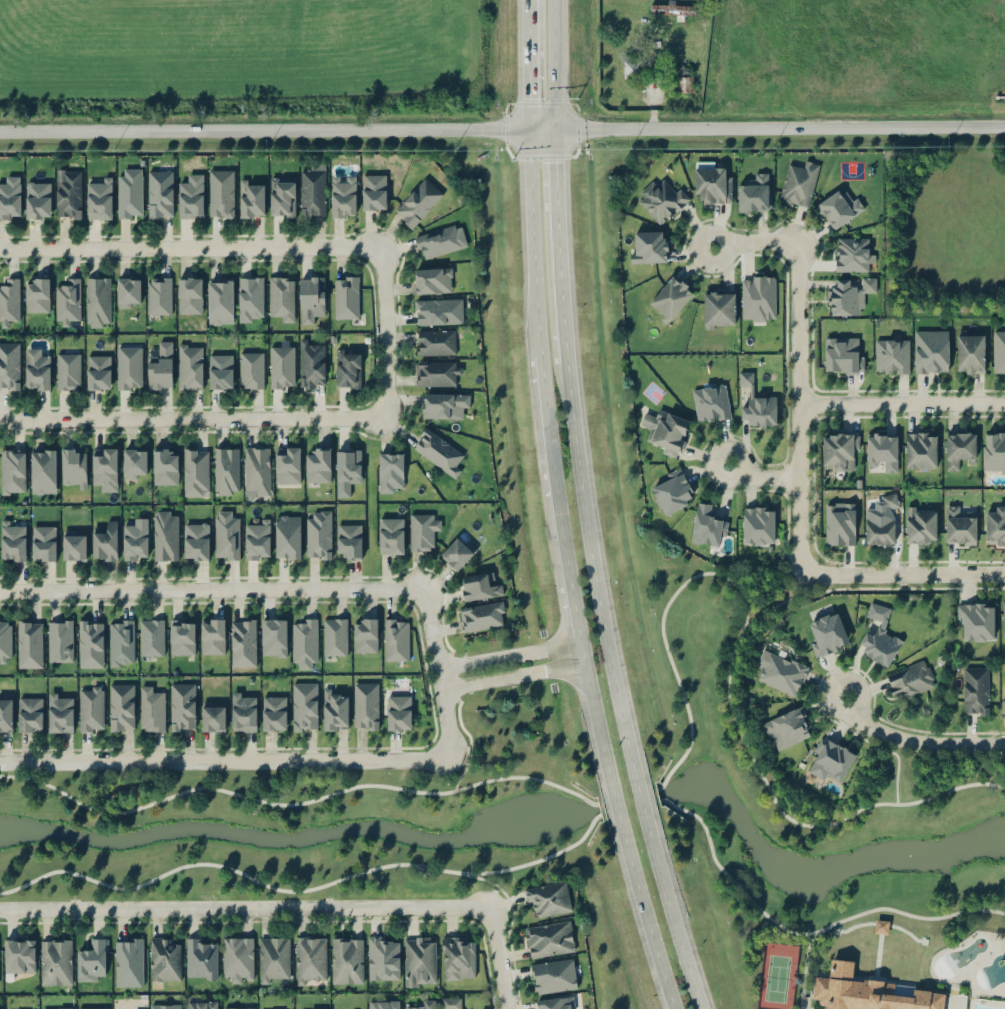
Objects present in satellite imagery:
building: (672, 8)
road: (526, 65)
road: (551, 65)
building: (632, 67)
building: (682, 77)
road: (778, 127)
road: (276, 129)
building: (798, 182)
building: (712, 183)
building: (313, 189)
building: (374, 191)
building: (130, 192)
building: (753, 192)
building: (68, 193)
building: (160, 193)
building: (221, 193)
building: (191, 196)
building: (282, 196)
building: (343, 196)
building: (10, 197)
building: (99, 197)
building: (251, 197)
building: (37, 199)
building: (661, 200)
building: (418, 201)
building: (839, 207)
road: (744, 239)
building: (437, 241)
building: (648, 245)
road: (531, 246)
road: (556, 247)
road: (190, 249)
building: (852, 254)
building: (432, 279)
building: (128, 291)
building: (37, 294)
building: (158, 295)
building: (189, 295)
building: (849, 295)
building: (346, 296)
building: (310, 297)
building: (670, 297)
building: (758, 297)
building: (250, 298)
building: (281, 298)
building: (9, 299)
building: (220, 300)
building: (67, 301)
building: (97, 301)
building: (719, 309)
building: (438, 310)
road: (383, 333)
building: (436, 342)
building: (931, 351)
building: (999, 351)
building: (970, 352)
building: (842, 354)
building: (892, 356)
building: (10, 364)
building: (312, 364)
building: (160, 366)
building: (190, 366)
building: (281, 366)
building: (129, 367)
building: (37, 368)
building: (348, 368)
building: (251, 369)
building: (220, 370)
building: (68, 371)
building: (98, 371)
building: (438, 372)
building: (745, 378)
road: (900, 401)
building: (710, 402)
building: (444, 405)
road: (796, 407)
building: (759, 410)
road: (192, 418)
building: (667, 430)
building: (959, 447)
building: (882, 448)
building: (920, 448)
building: (839, 450)
building: (438, 451)
building: (993, 452)
building: (134, 462)
building: (287, 464)
building: (317, 464)
building: (165, 465)
building: (74, 467)
building: (104, 468)
building: (12, 470)
building: (42, 470)
building: (226, 470)
building: (256, 470)
building: (348, 470)
building: (196, 471)
building: (390, 472)
road: (764, 475)
building: (673, 490)
building: (891, 500)
road: (554, 501)
building: (840, 523)
building: (758, 524)
building: (920, 524)
building: (708, 525)
building: (995, 525)
building: (959, 526)
building: (879, 528)
building: (422, 529)
building: (318, 533)
building: (165, 534)
building: (226, 534)
building: (391, 534)
building: (288, 536)
building: (256, 538)
building: (13, 540)
building: (135, 540)
building: (349, 540)
road: (786, 540)
building: (105, 541)
building: (196, 541)
building: (43, 542)
building: (74, 544)
building: (458, 551)
road: (901, 576)
building: (480, 585)
road: (905, 586)
road: (210, 589)
road: (772, 604)
building: (482, 615)
building: (1003, 620)
building: (977, 621)
building: (826, 633)
building: (365, 634)
building: (212, 635)
building: (878, 635)
building: (182, 636)
building: (274, 636)
building: (334, 636)
building: (151, 637)
building: (396, 638)
building: (60, 639)
building: (5, 640)
building: (121, 641)
building: (91, 642)
building: (243, 642)
building: (304, 642)
building: (29, 643)
road: (580, 654)
road: (506, 655)
building: (780, 670)
road: (435, 672)
road: (725, 677)
road: (511, 678)
building: (910, 679)
road: (613, 690)
building: (975, 690)
building: (1003, 695)
building: (365, 704)
building: (182, 705)
building: (304, 705)
building: (121, 706)
building: (152, 707)
building: (91, 708)
building: (335, 709)
building: (243, 710)
building: (60, 711)
building: (399, 711)
building: (274, 712)
building: (5, 713)
building: (29, 713)
road: (459, 713)
building: (212, 716)
building: (787, 727)
road: (915, 744)
road: (223, 759)
building: (830, 759)
road: (468, 760)
road: (895, 766)
road: (294, 804)
road: (622, 838)
road: (493, 888)
road: (300, 891)
building: (549, 898)
road: (240, 909)
building: (880, 926)
road: (805, 933)
building: (549, 938)
building: (19, 955)
building: (458, 957)
building: (238, 958)
building: (274, 958)
building: (382, 958)
building: (166, 959)
building: (201, 959)
building: (310, 959)
road: (496, 959)
building: (91, 960)
building: (347, 960)
building: (420, 960)
building: (55, 962)
building: (129, 962)
road: (802, 966)
building: (554, 975)
park: (777, 975)
building: (867, 992)
building: (451, 1003)
building: (555, 1003)
building: (384, 1004)
building: (202, 1005)
building: (425, 1005)
building: (165, 1006)
building: (55, 1008)
building: (65, 1008)
building: (93, 1008)
building: (238, 1008)

